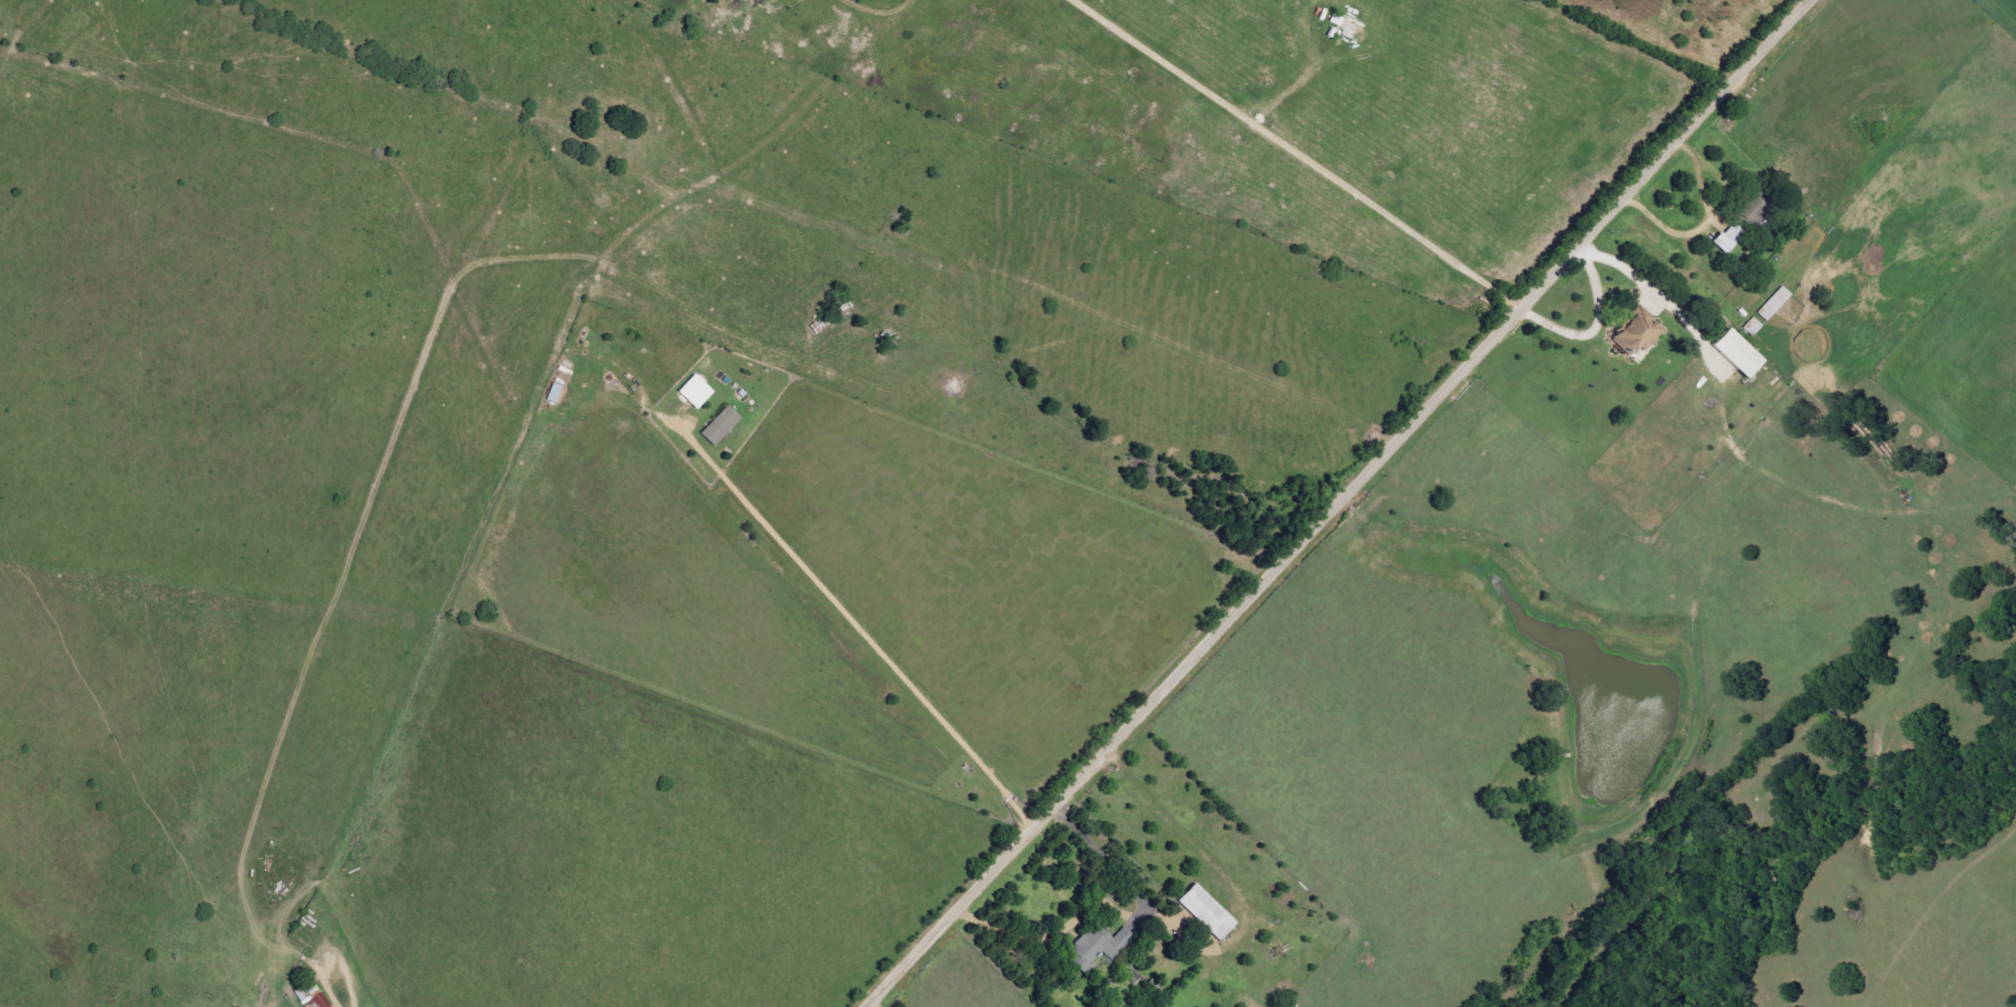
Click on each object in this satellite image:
road: (1298, 155)
building: (1750, 209)
road: (1702, 226)
building: (1726, 237)
building: (1773, 303)
building: (1751, 326)
road: (1596, 330)
building: (1634, 335)
building: (1733, 358)
building: (693, 392)
building: (716, 426)
road: (1341, 504)
road: (866, 641)
road: (1110, 903)
building: (1205, 912)
building: (1088, 946)
building: (311, 998)

